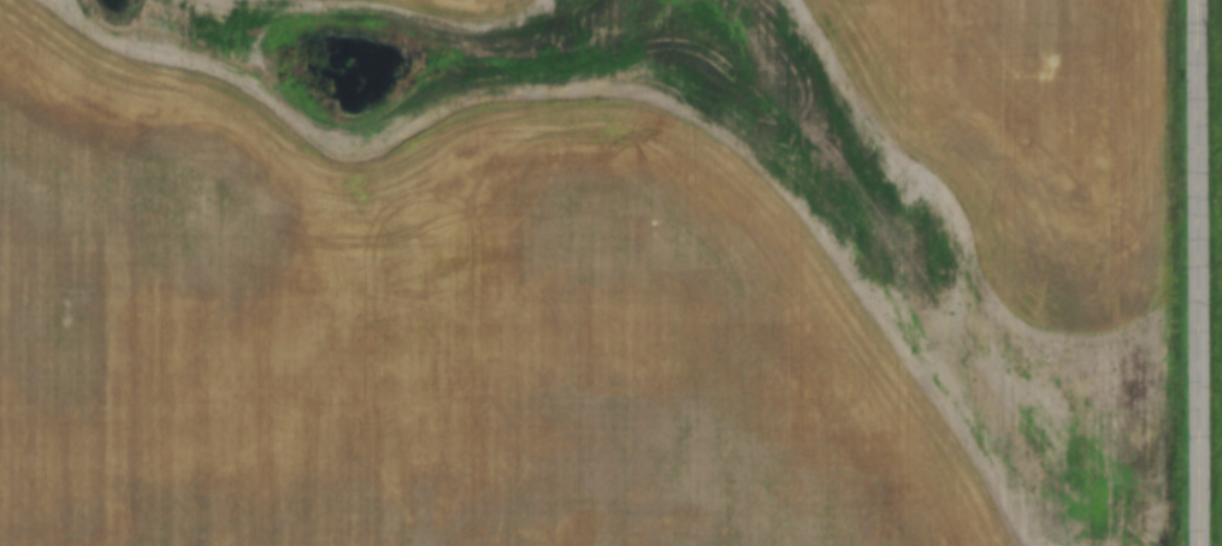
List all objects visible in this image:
road: (1206, 273)

